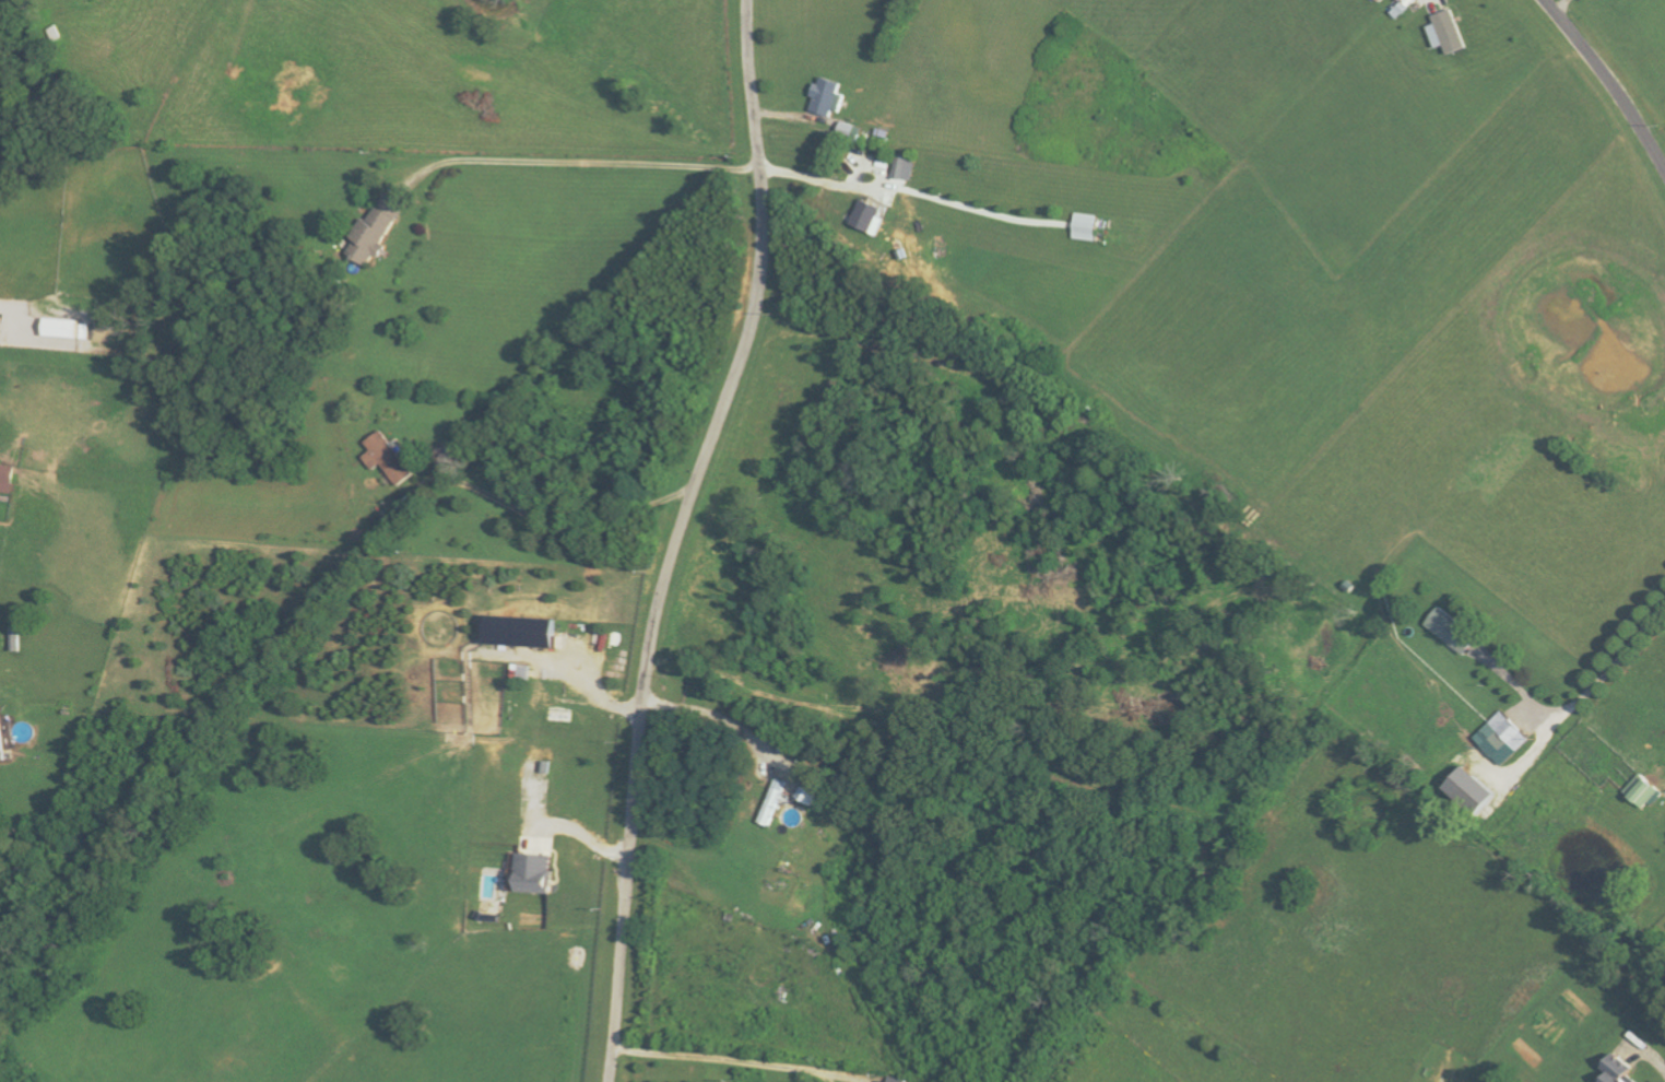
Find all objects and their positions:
building: (1382, 0)
road: (1559, 7)
building: (1449, 32)
road: (1607, 83)
building: (828, 97)
building: (851, 131)
road: (586, 162)
building: (901, 167)
road: (814, 178)
building: (869, 217)
building: (1088, 226)
building: (377, 230)
building: (63, 328)
building: (1, 330)
building: (387, 458)
building: (7, 479)
road: (569, 529)
road: (678, 537)
building: (1453, 631)
building: (522, 633)
road: (1584, 698)
road: (729, 720)
building: (1502, 739)
building: (3, 741)
building: (1472, 791)
building: (810, 792)
building: (1645, 792)
building: (774, 802)
building: (535, 873)
road: (731, 1059)
building: (1621, 1070)
building: (898, 1080)

